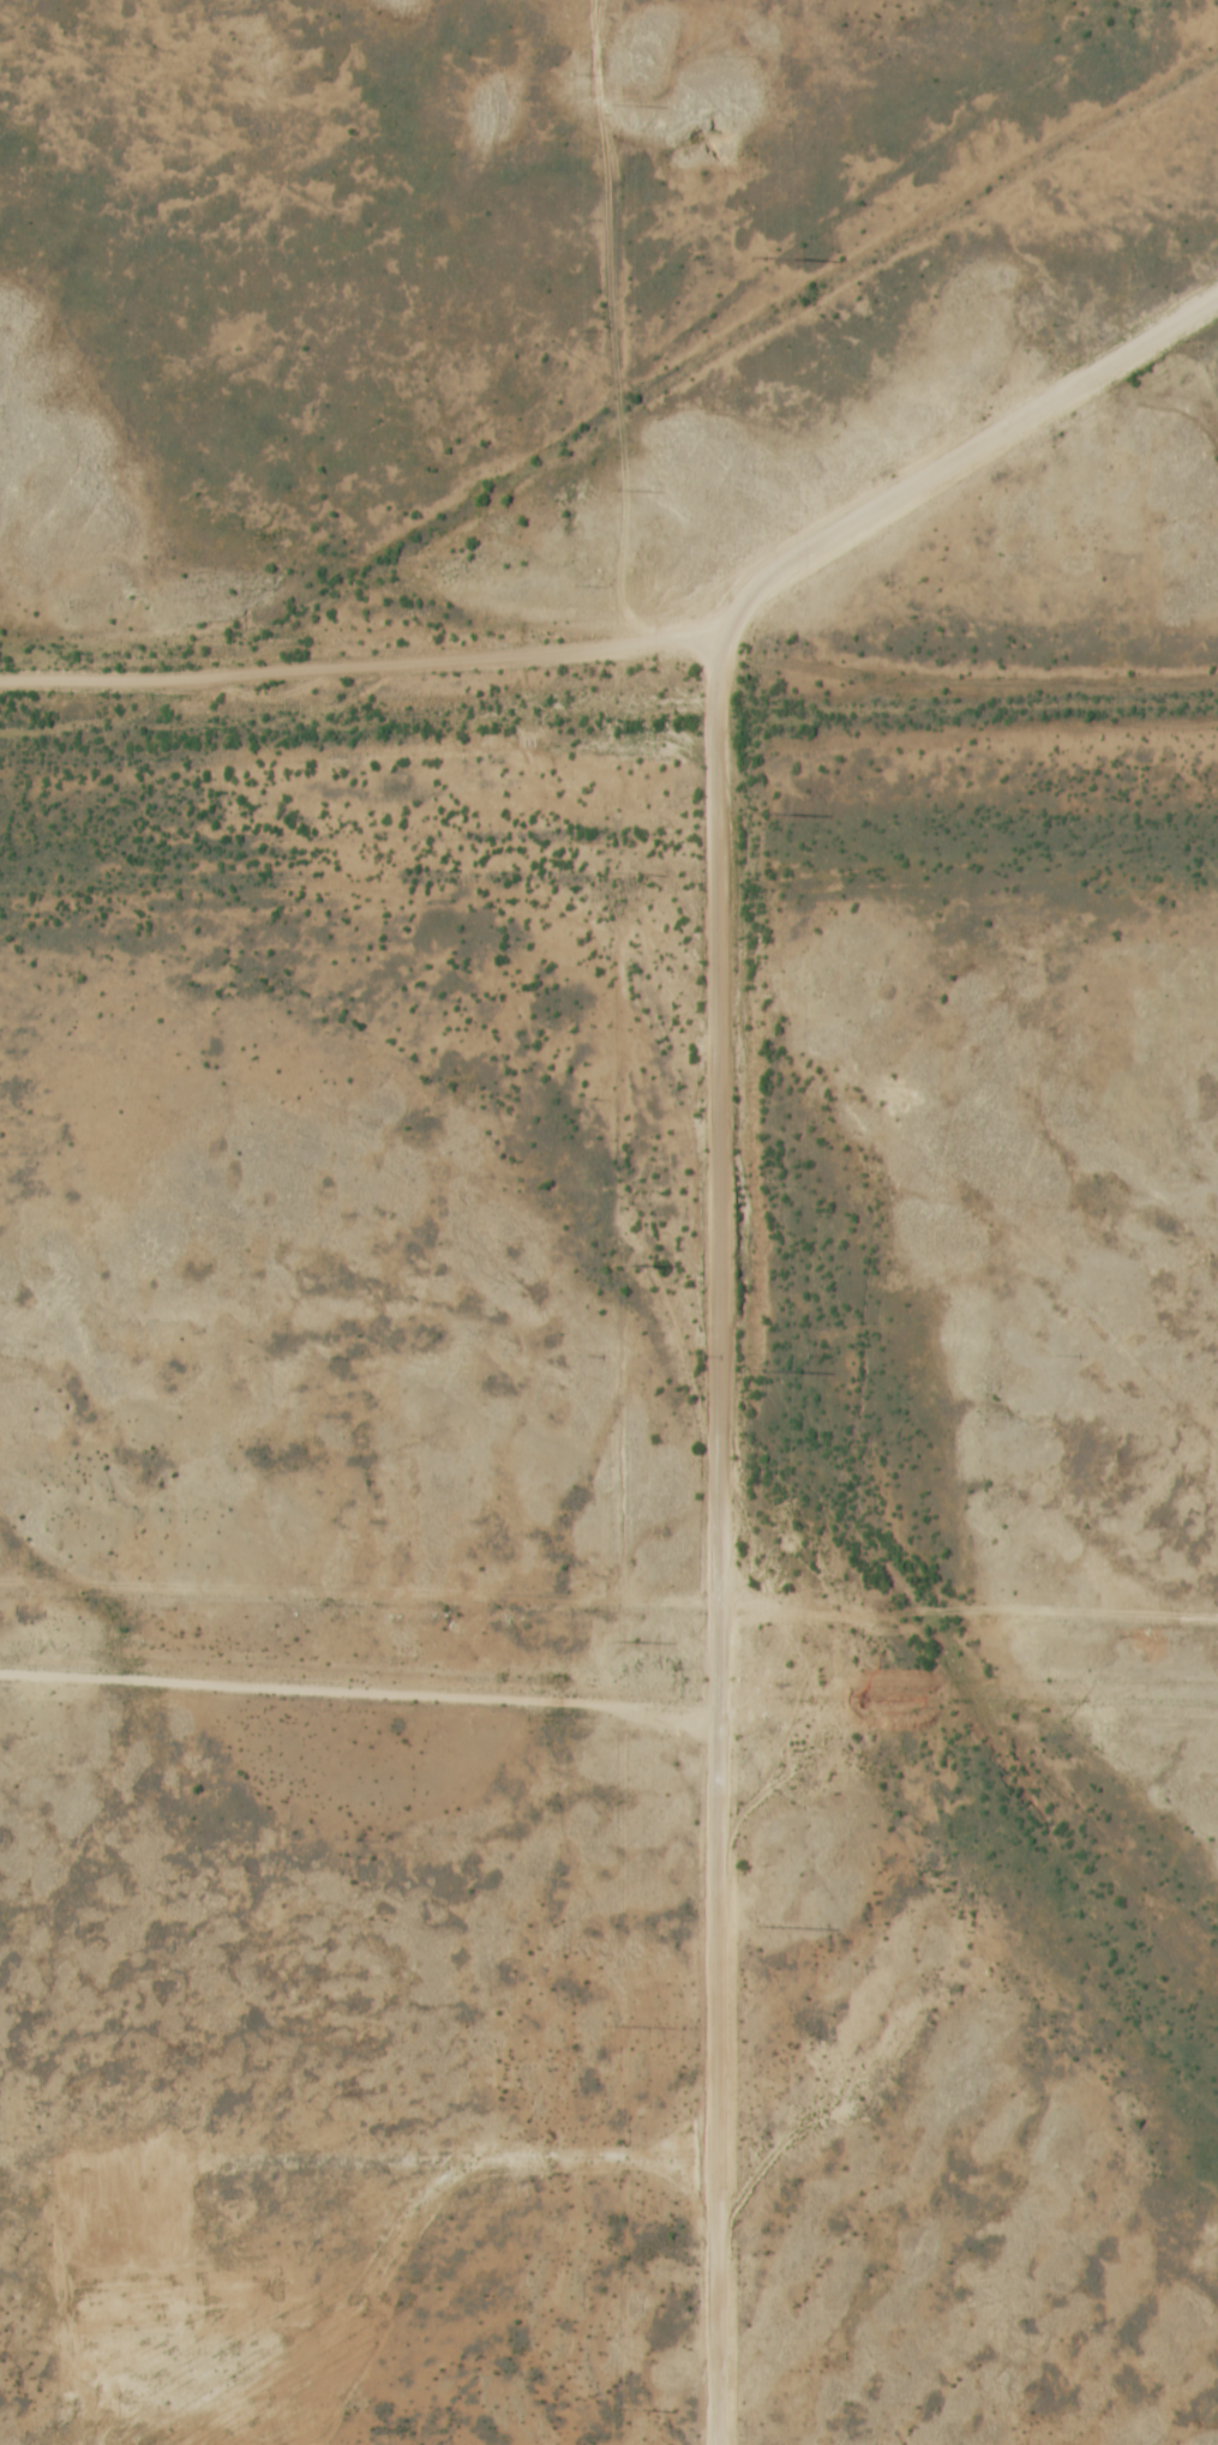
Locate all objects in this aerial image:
power tower: (614, 104)
power tower: (760, 259)
power tower: (616, 487)
power tower: (757, 813)
power tower: (613, 872)
road: (720, 1240)
power tower: (617, 1263)
power tower: (761, 1370)
power tower: (616, 1641)
road: (359, 1695)
power tower: (762, 1928)
power tower: (618, 2026)
road: (410, 2224)
power tower: (619, 2408)

